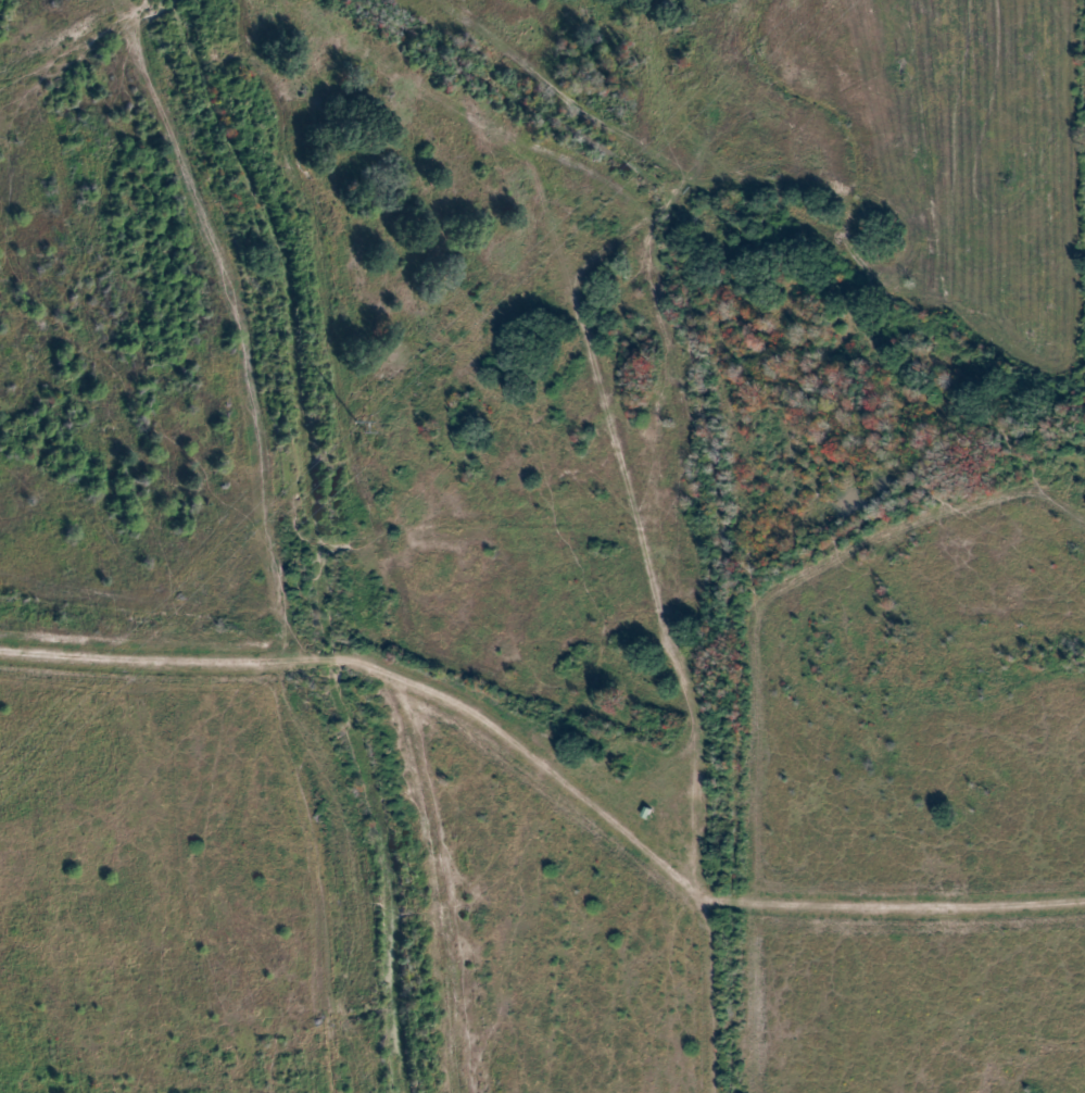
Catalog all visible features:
power tower: (359, 425)
road: (367, 652)

